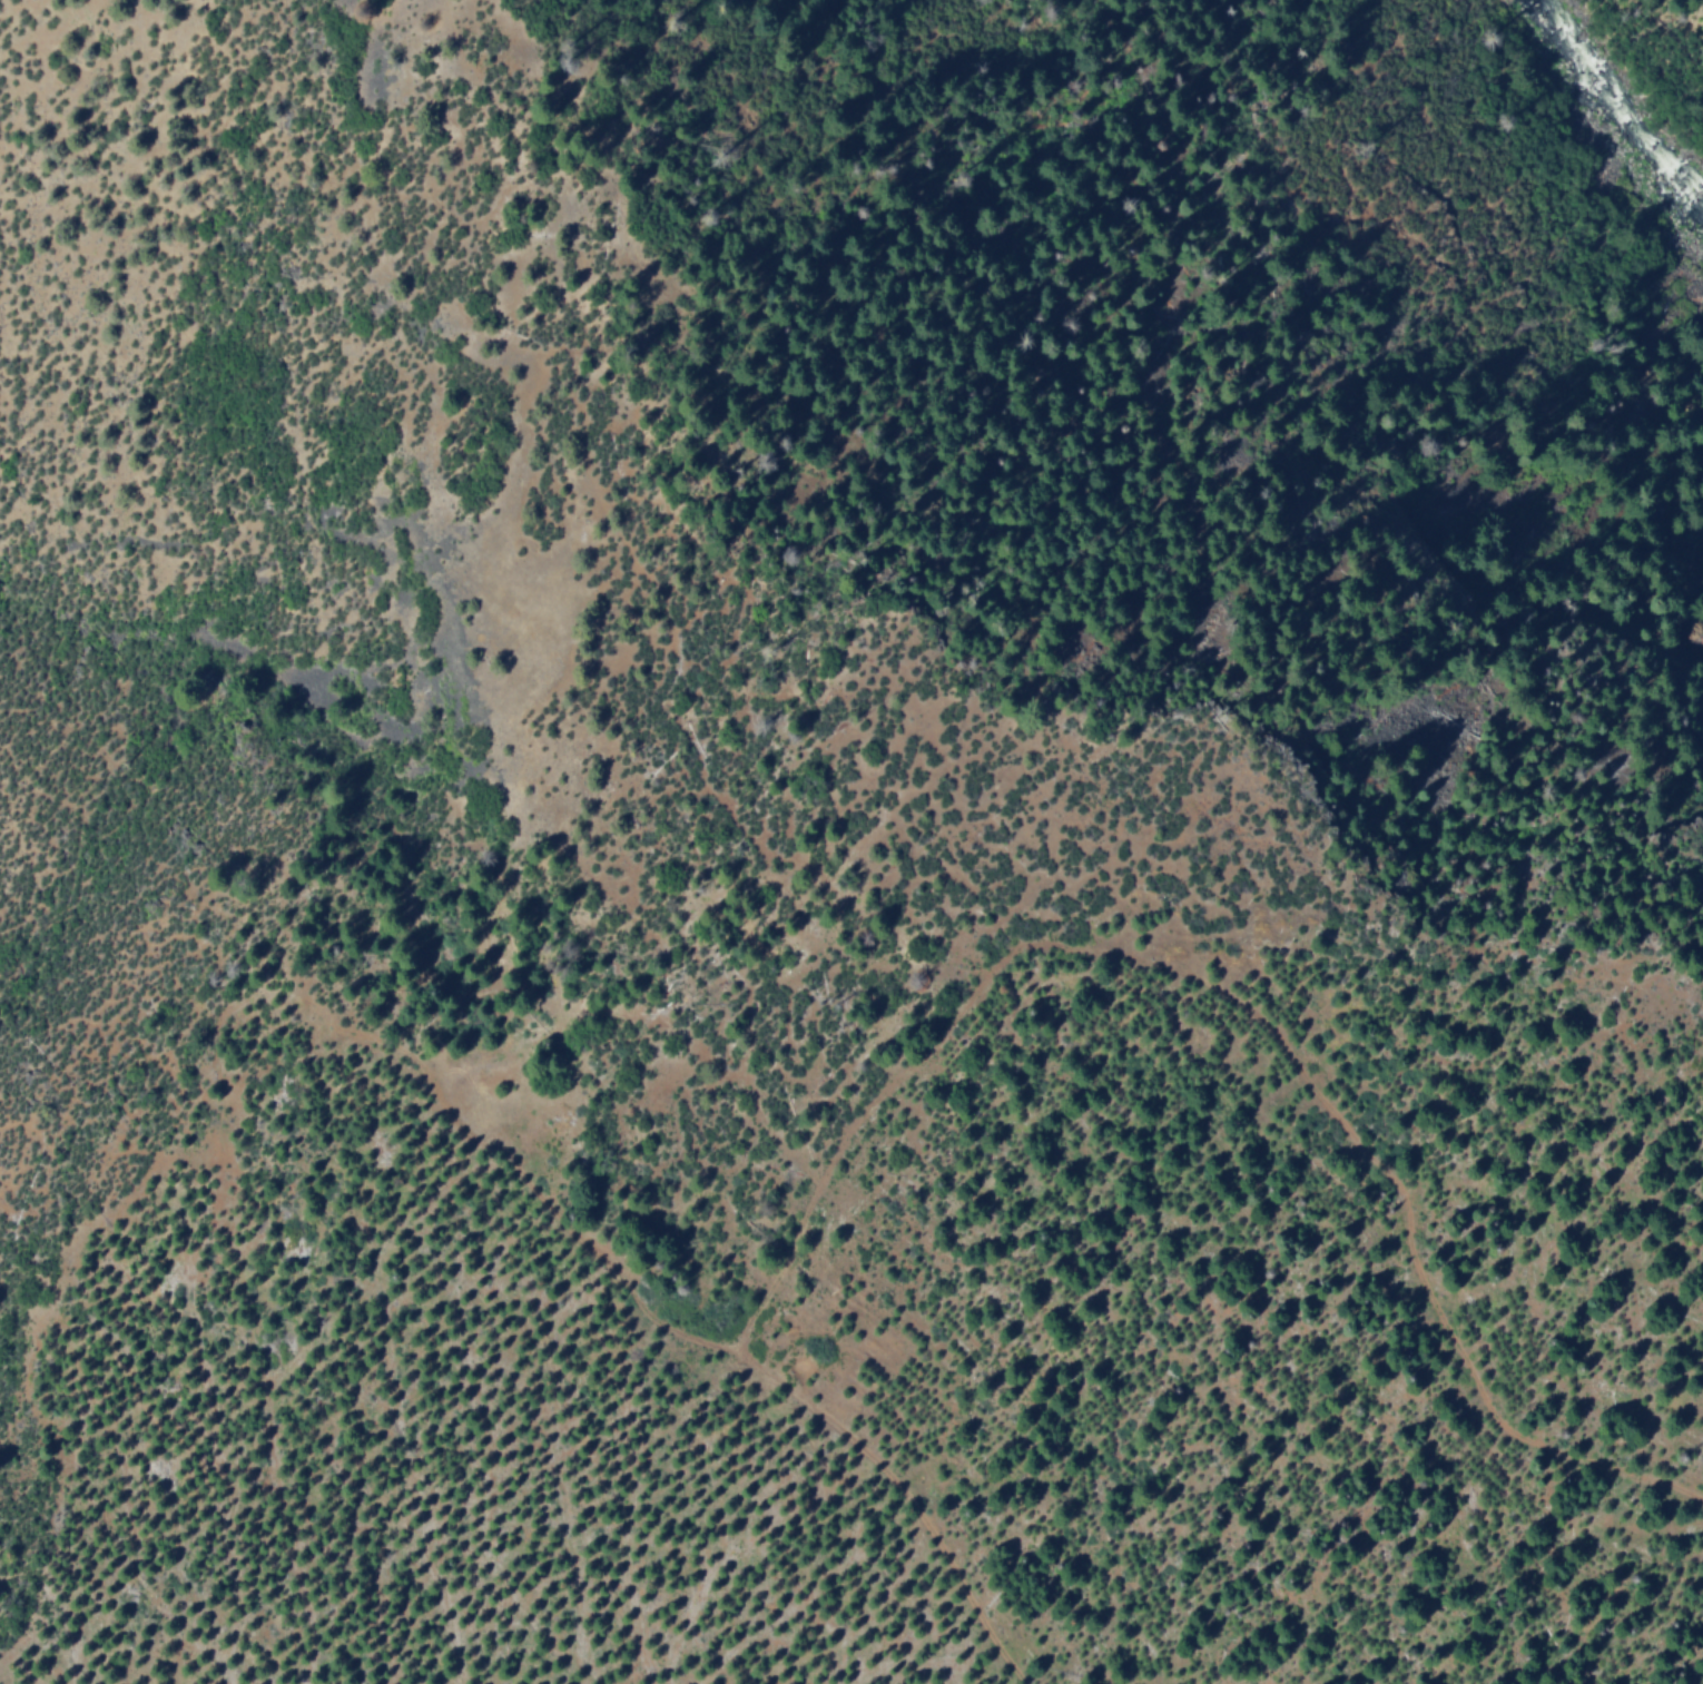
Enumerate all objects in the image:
river: (1611, 116)

